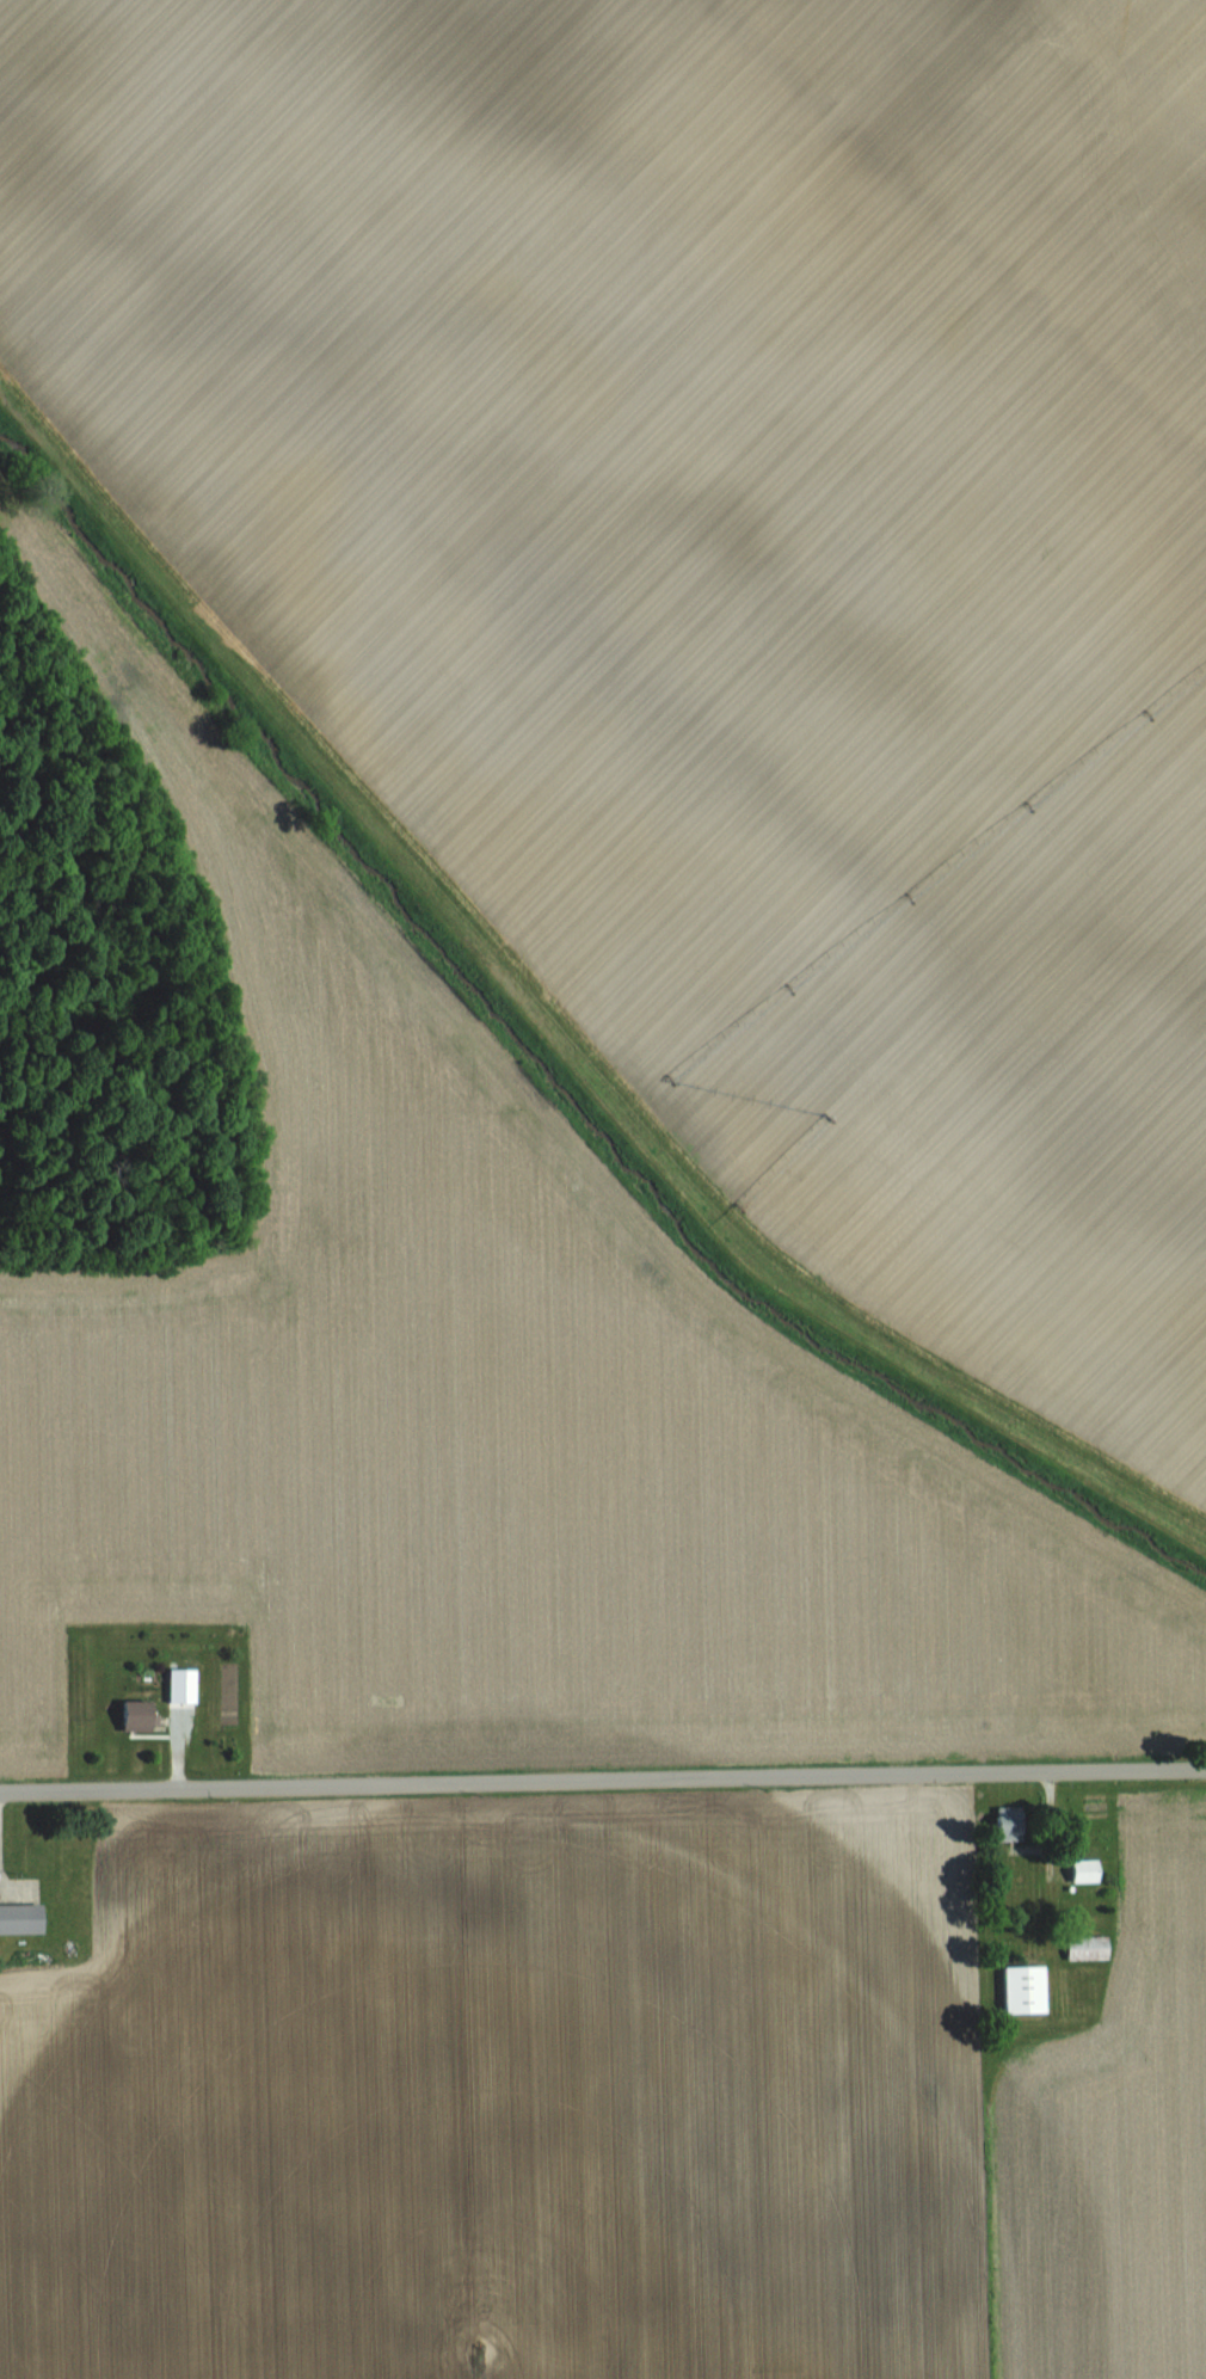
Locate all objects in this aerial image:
building: (133, 1714)
road: (603, 1774)
building: (1003, 1822)
building: (1078, 1870)
building: (19, 1917)
building: (1084, 1947)
building: (1020, 1988)

